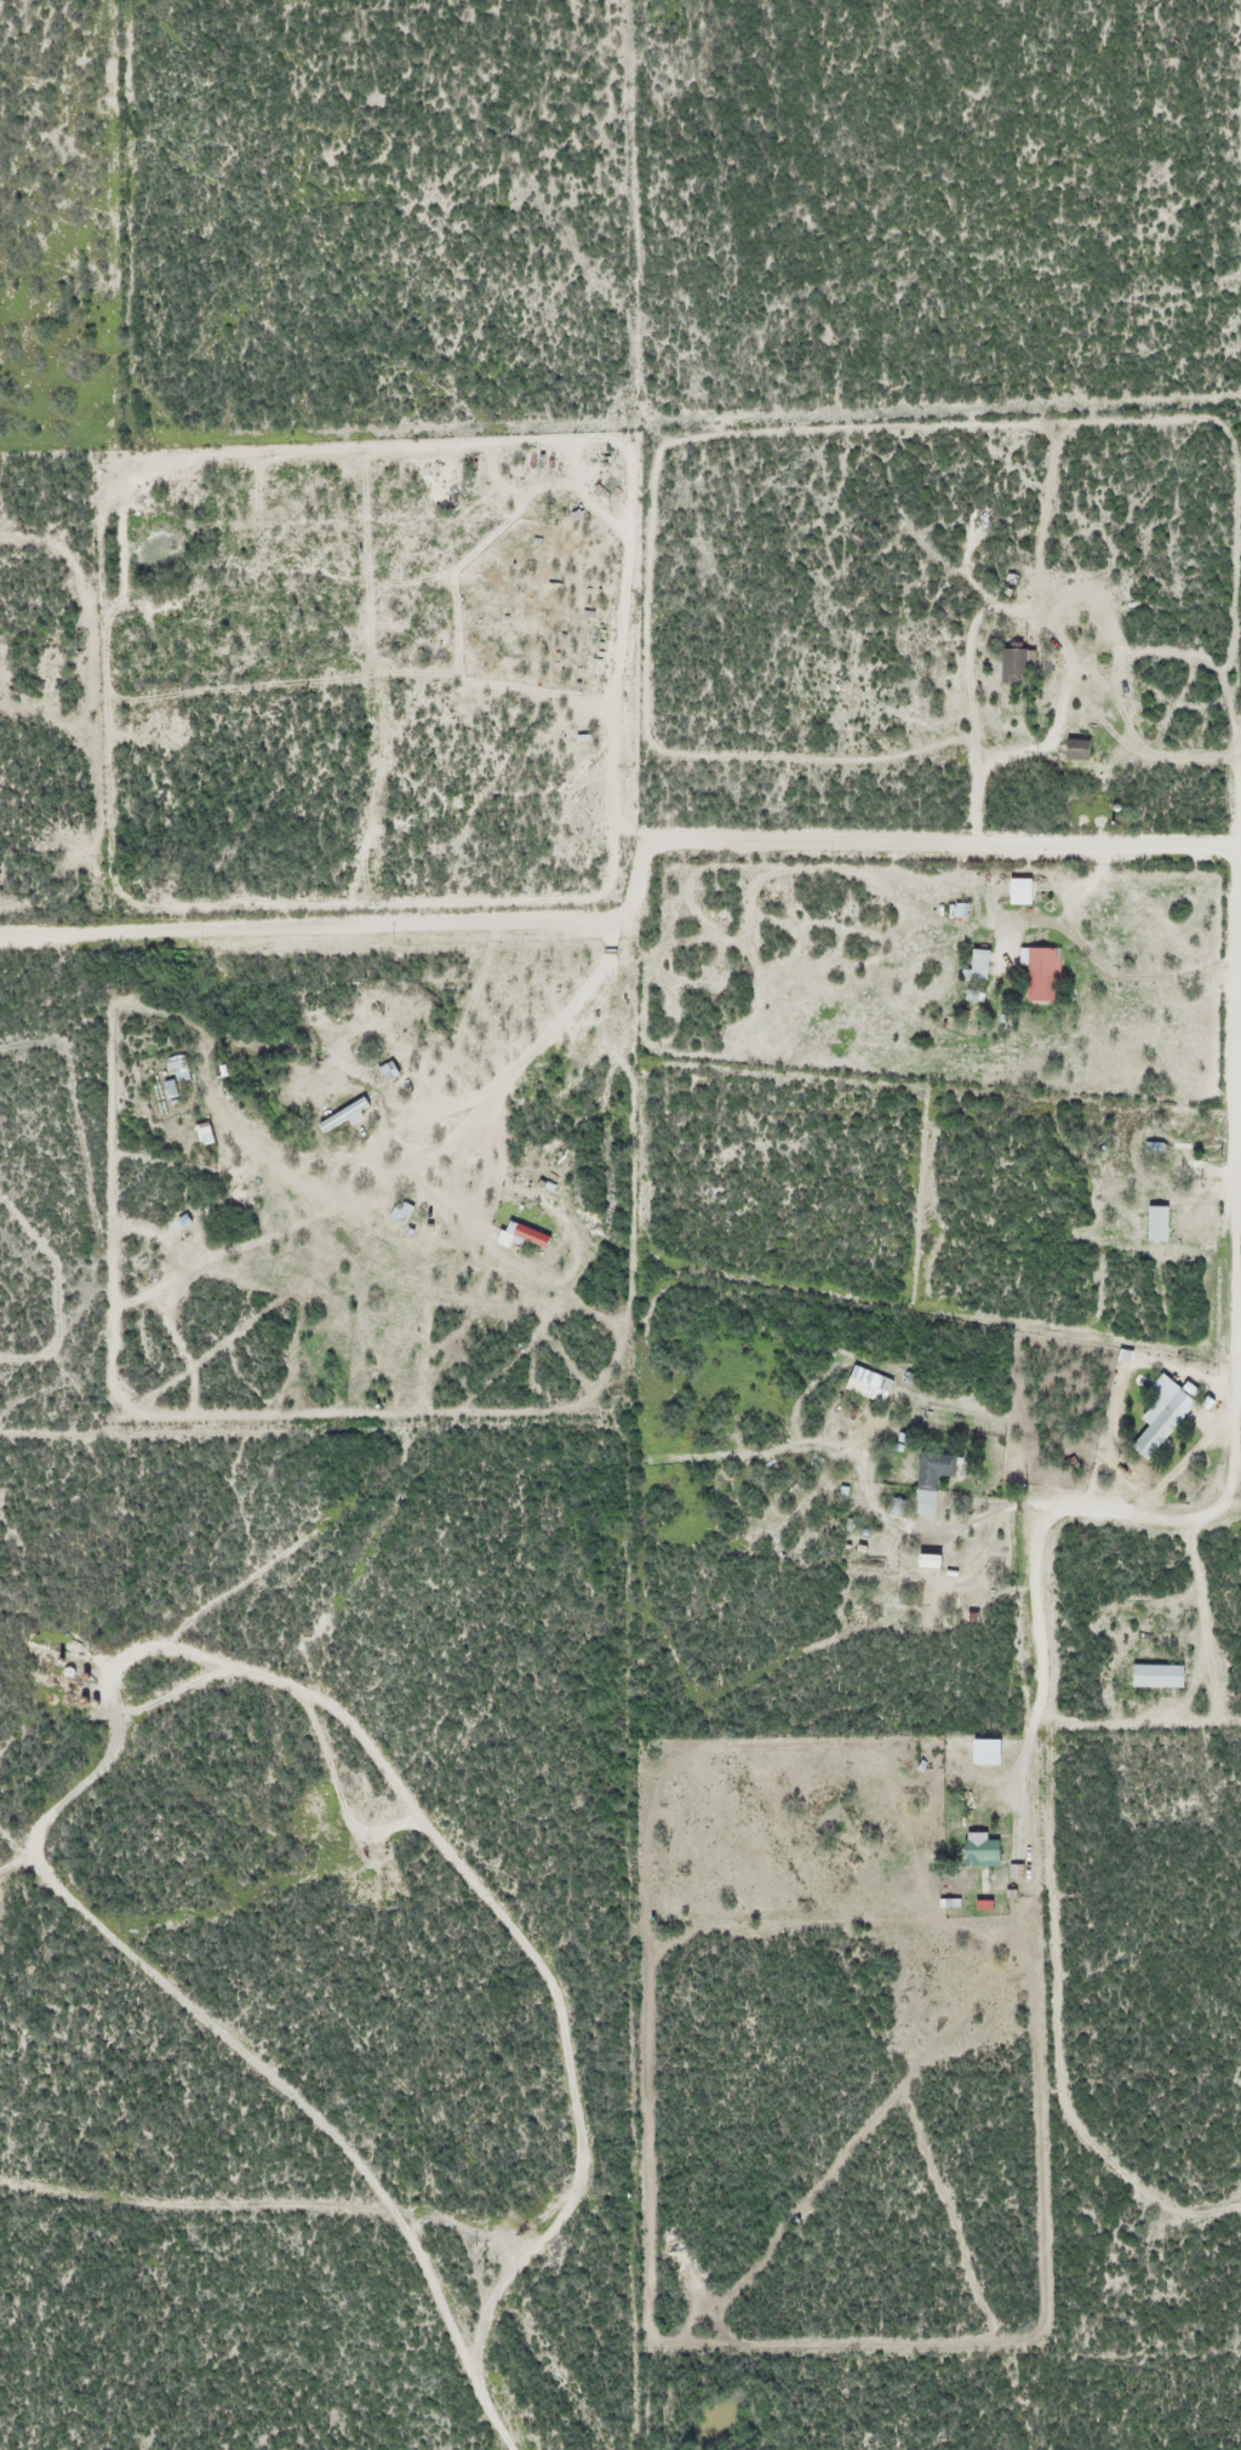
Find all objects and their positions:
building: (1012, 663)
building: (1073, 749)
road: (1119, 841)
building: (1014, 891)
building: (974, 964)
building: (1037, 975)
building: (384, 1072)
building: (338, 1114)
road: (1236, 1137)
building: (1168, 1138)
building: (1189, 1167)
building: (864, 1384)
building: (1151, 1430)
building: (927, 1480)
building: (986, 1848)

